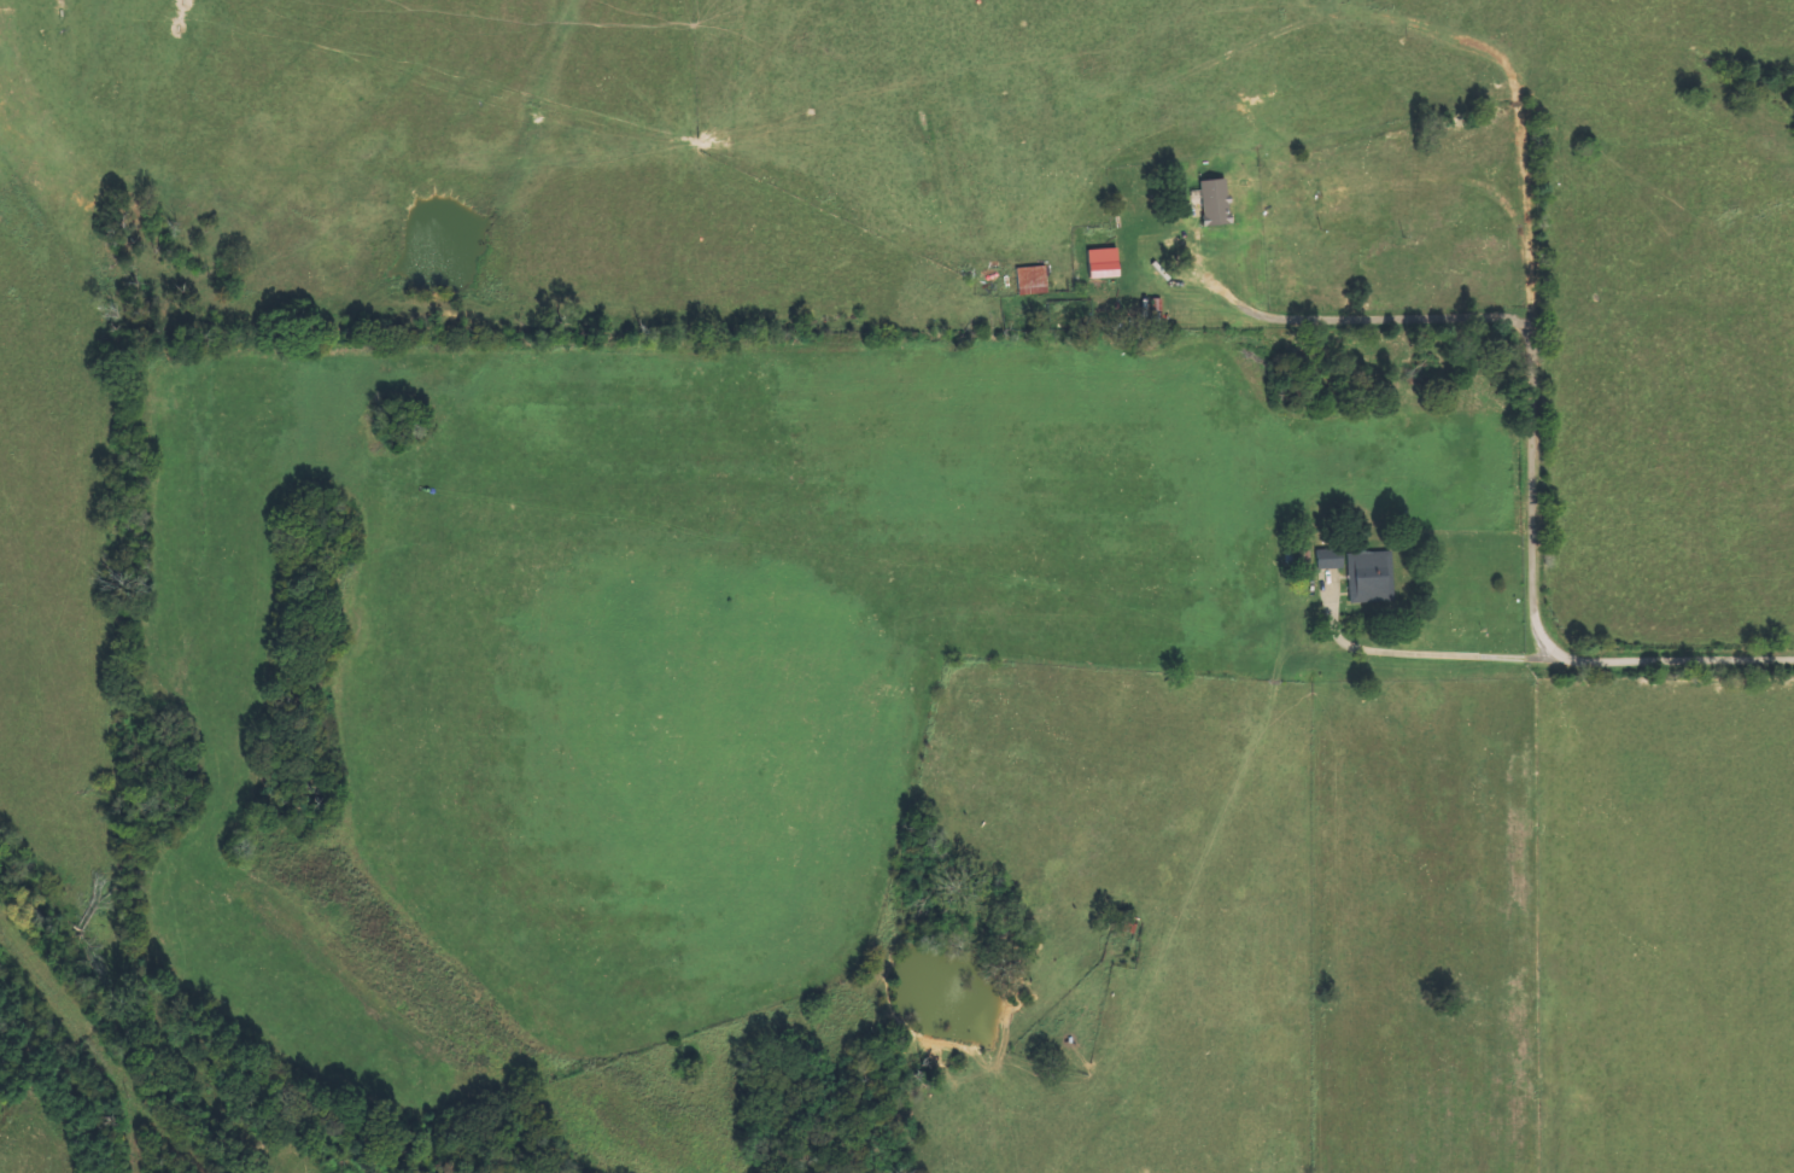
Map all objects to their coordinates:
building: (1216, 203)
building: (1105, 276)
building: (1033, 280)
road: (1533, 514)
building: (1332, 559)
building: (1372, 577)
road: (1472, 656)
road: (1681, 660)

